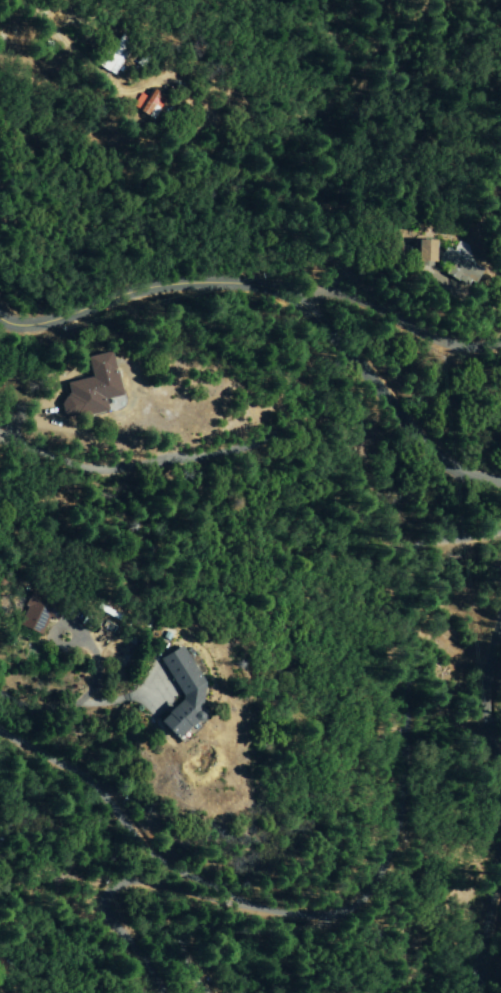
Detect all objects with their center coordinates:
building: (114, 57)
building: (148, 104)
building: (425, 250)
building: (459, 268)
road: (209, 287)
road: (442, 383)
building: (90, 389)
road: (430, 453)
building: (35, 614)
road: (485, 664)
building: (184, 697)
road: (491, 741)
road: (499, 786)
road: (118, 827)
road: (374, 864)
road: (489, 920)

